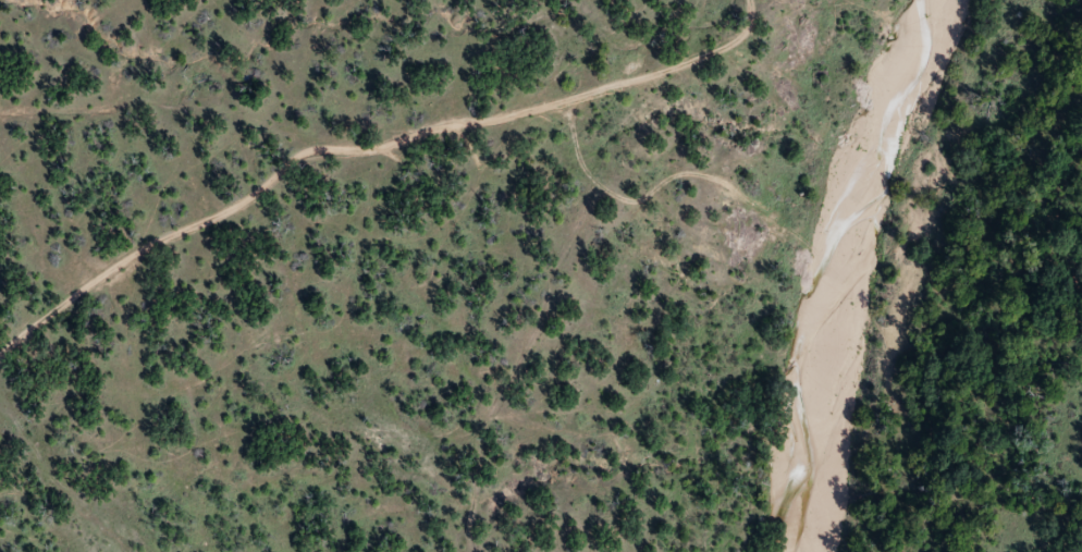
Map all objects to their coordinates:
road: (366, 144)
river: (839, 265)

